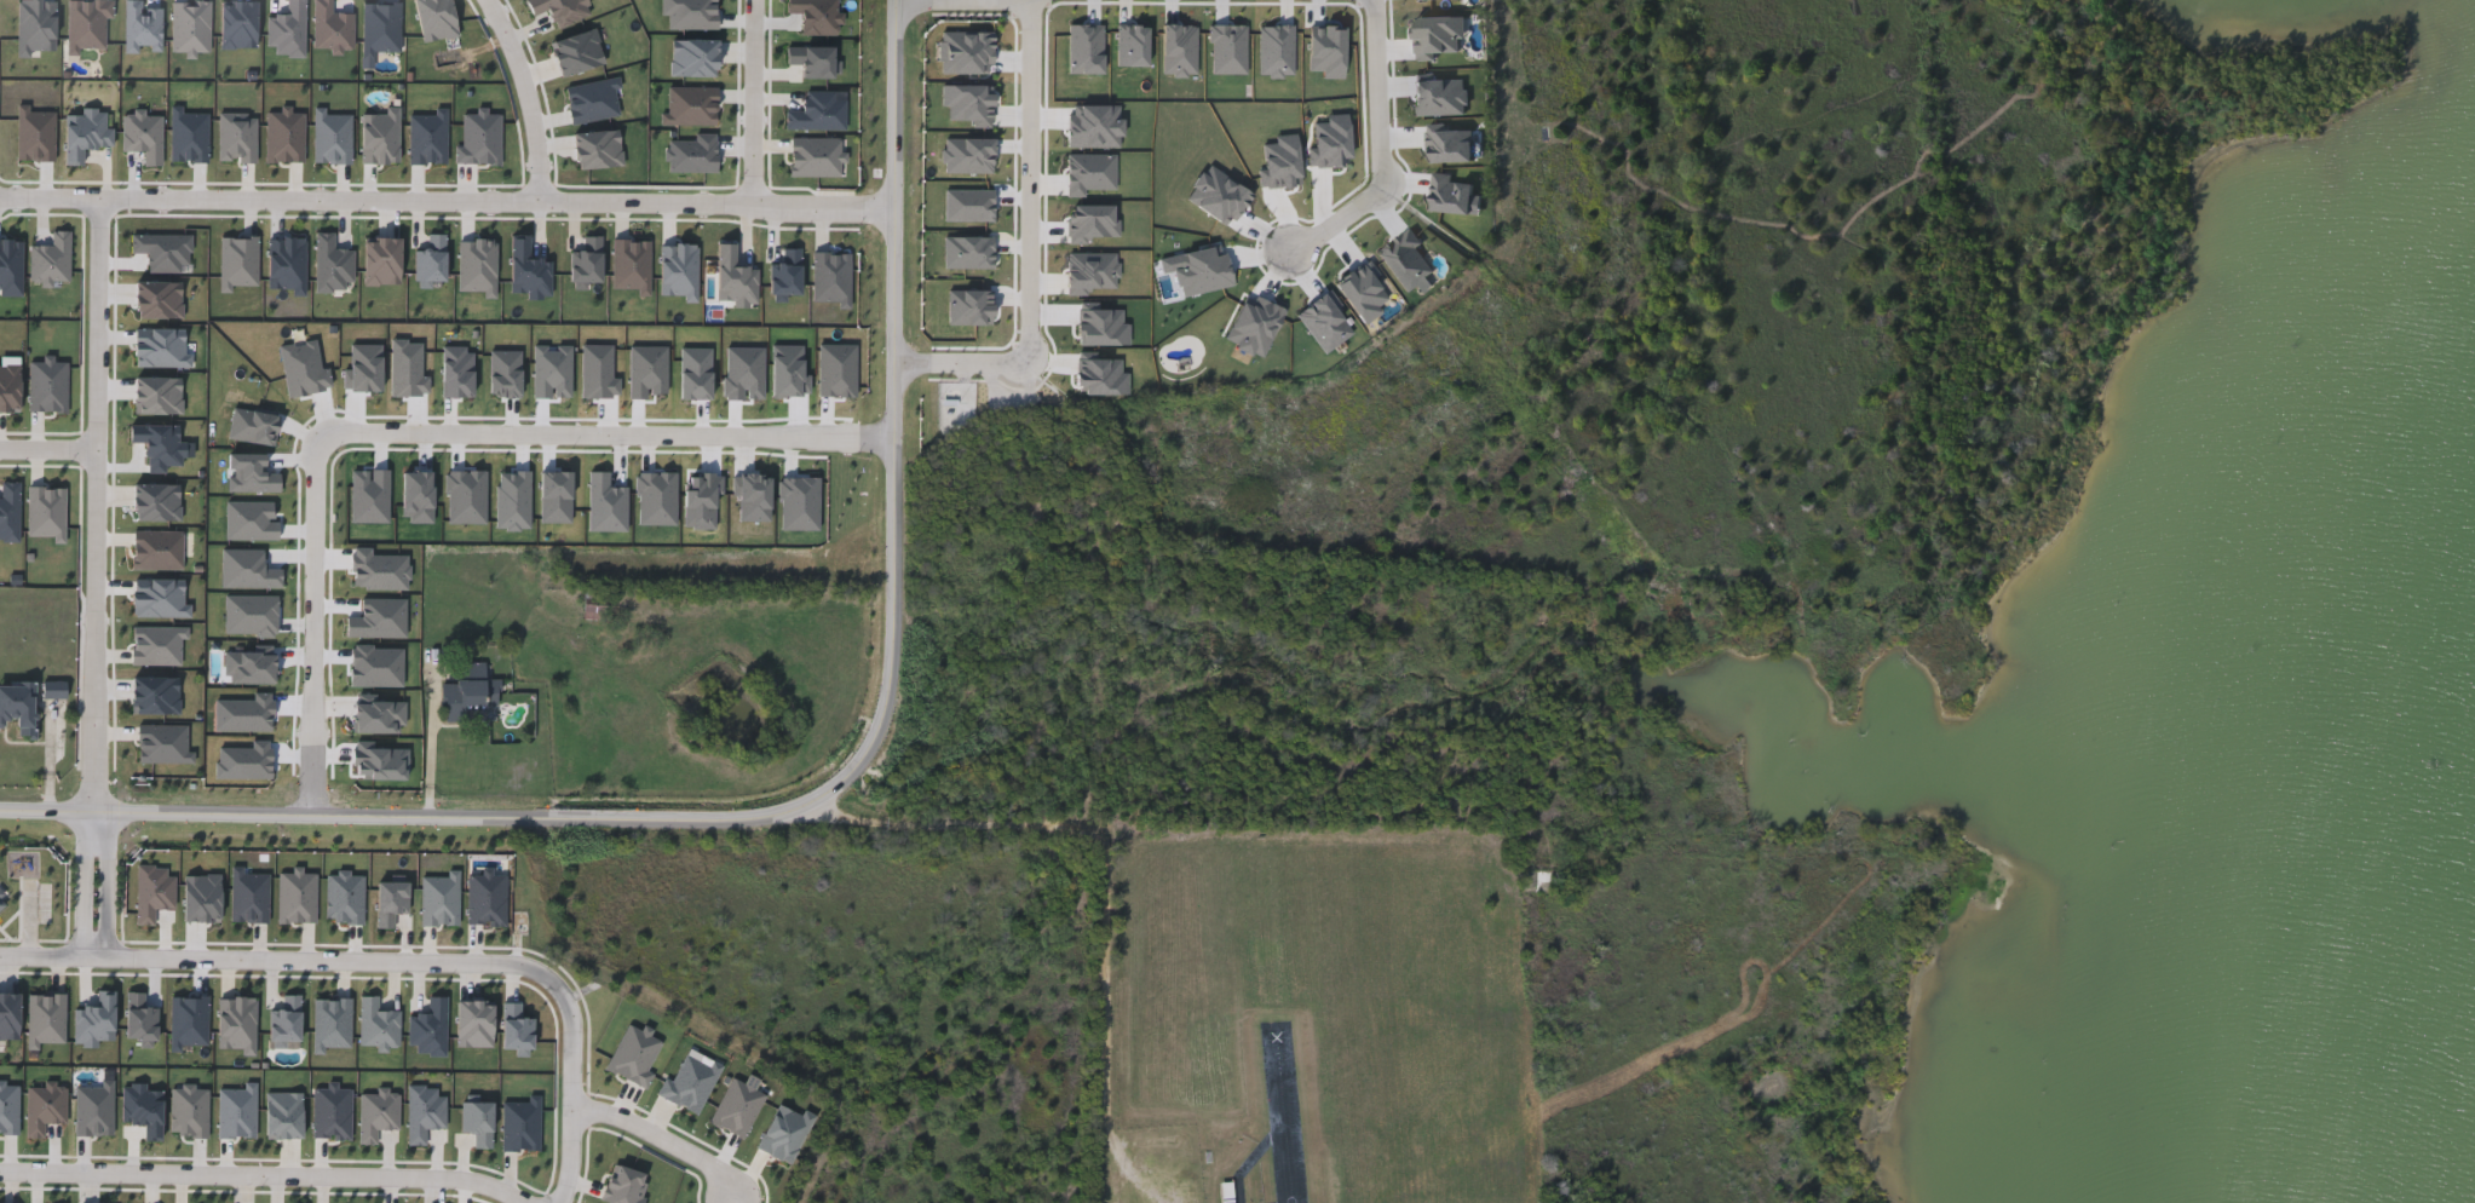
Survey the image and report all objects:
road: (531, 94)
road: (754, 98)
road: (1383, 150)
road: (450, 196)
road: (1034, 249)
road: (609, 434)
road: (48, 442)
road: (97, 511)
building: (598, 610)
road: (317, 623)
building: (58, 692)
building: (468, 695)
building: (59, 696)
building: (18, 703)
road: (857, 770)
road: (47, 828)
road: (94, 834)
road: (1113, 859)
road: (109, 890)
road: (85, 892)
road: (98, 946)
road: (48, 950)
road: (336, 955)
road: (576, 1098)
road: (664, 1134)
road: (275, 1170)

